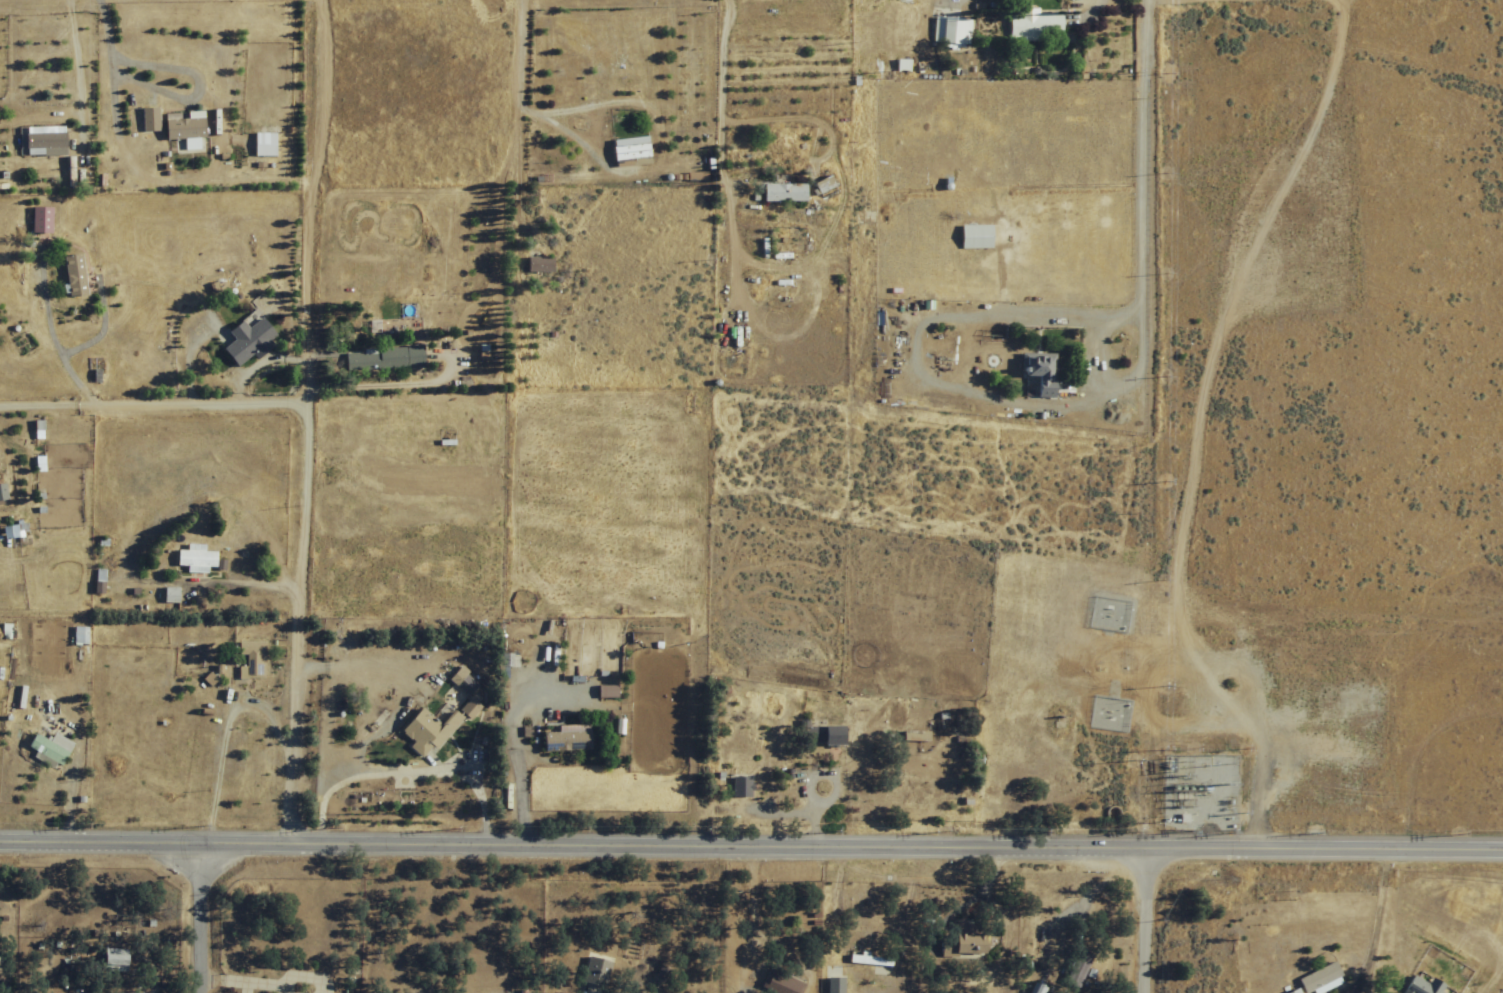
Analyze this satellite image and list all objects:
building: (1033, 23)
building: (950, 30)
road: (42, 55)
road: (513, 103)
road: (583, 107)
building: (144, 119)
building: (178, 130)
building: (35, 140)
building: (258, 143)
building: (626, 151)
road: (1145, 181)
building: (782, 192)
building: (34, 219)
building: (535, 264)
building: (67, 275)
building: (241, 341)
building: (379, 359)
building: (1039, 373)
road: (149, 391)
road: (299, 418)
building: (1, 531)
building: (188, 558)
building: (162, 595)
building: (72, 635)
building: (246, 660)
building: (431, 727)
building: (821, 735)
building: (914, 736)
building: (562, 741)
building: (43, 750)
building: (739, 786)
road: (751, 838)
road: (197, 915)
road: (1142, 917)
building: (960, 944)
building: (106, 958)
building: (868, 958)
building: (1076, 966)
building: (593, 974)
building: (1316, 980)
building: (1420, 986)
building: (1036, 988)

